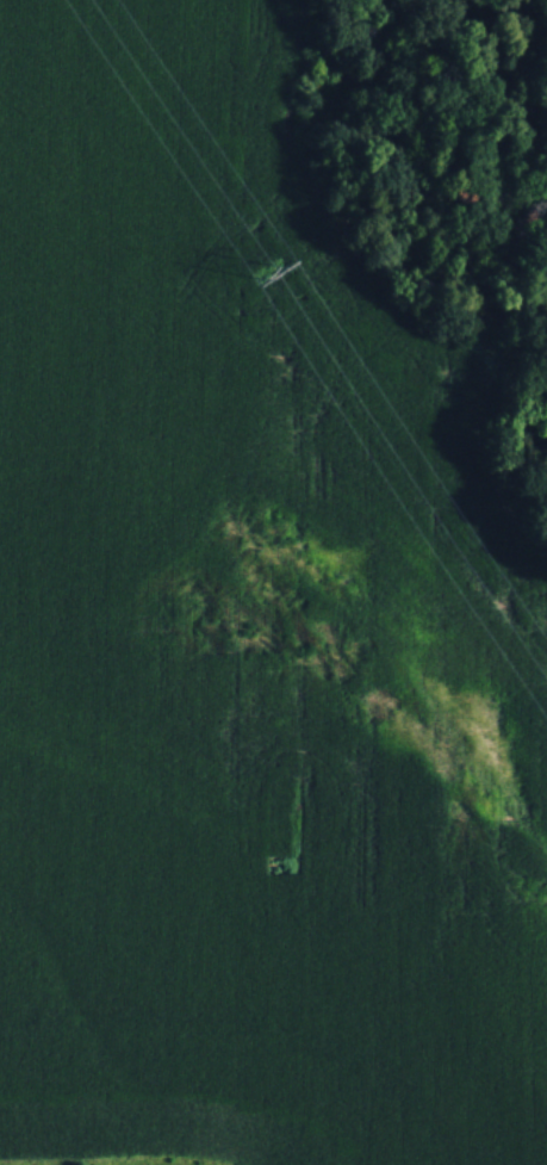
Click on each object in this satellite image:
power tower: (266, 269)

